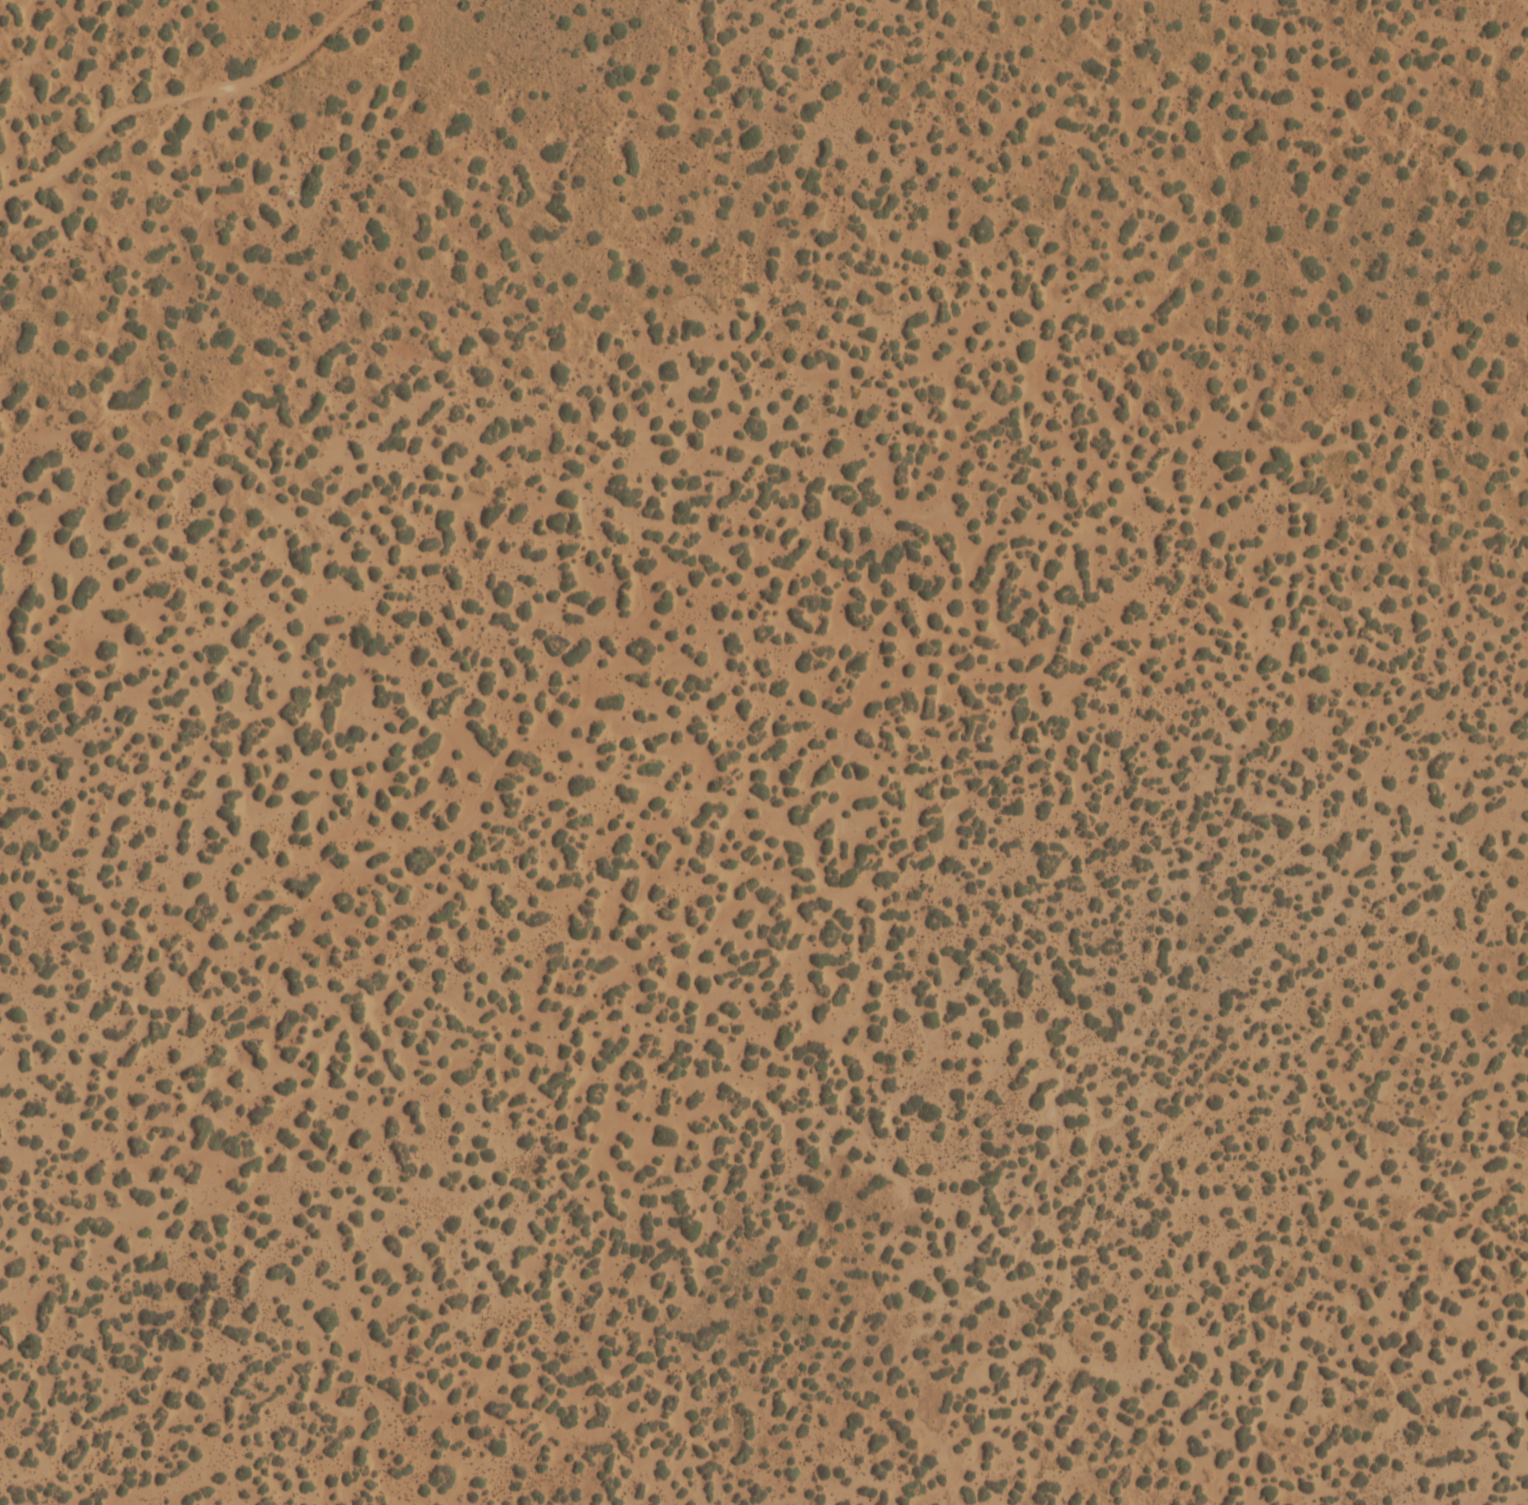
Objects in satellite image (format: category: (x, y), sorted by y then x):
building: (1392, 604)
building: (1483, 643)
building: (1215, 767)

